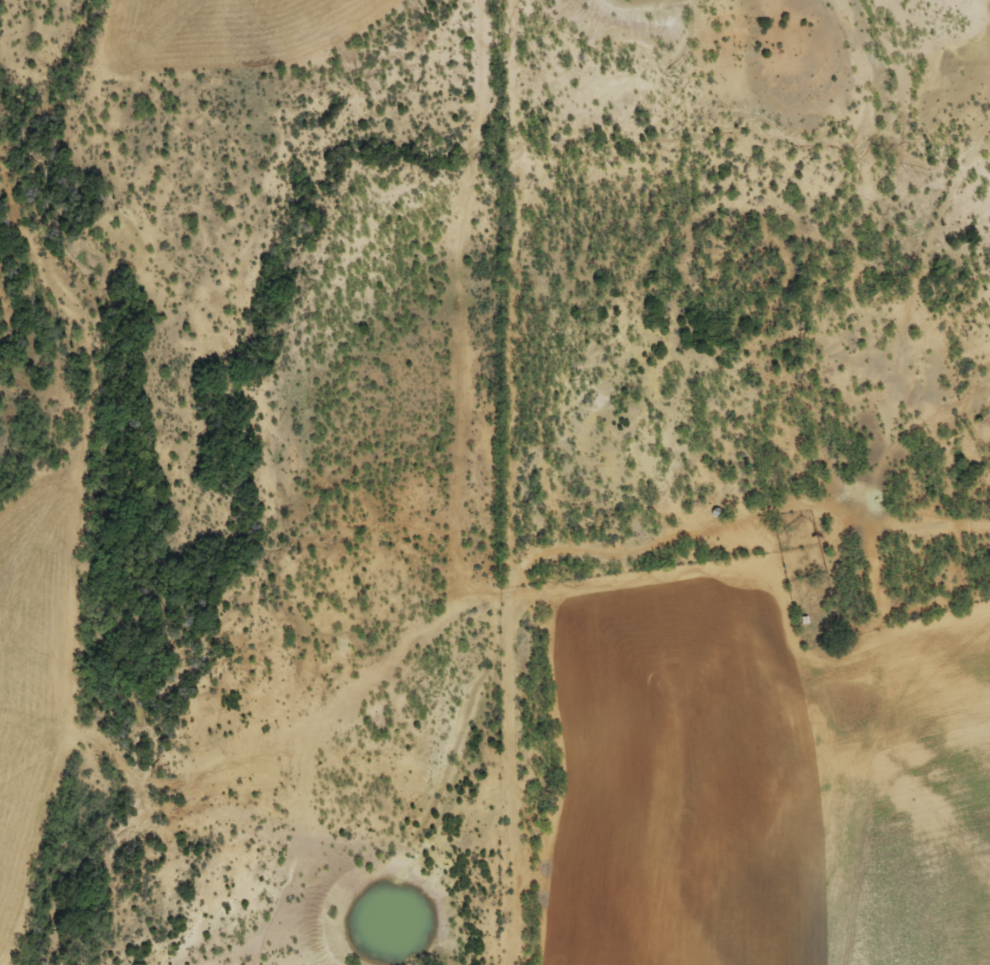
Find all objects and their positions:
road: (562, 568)

